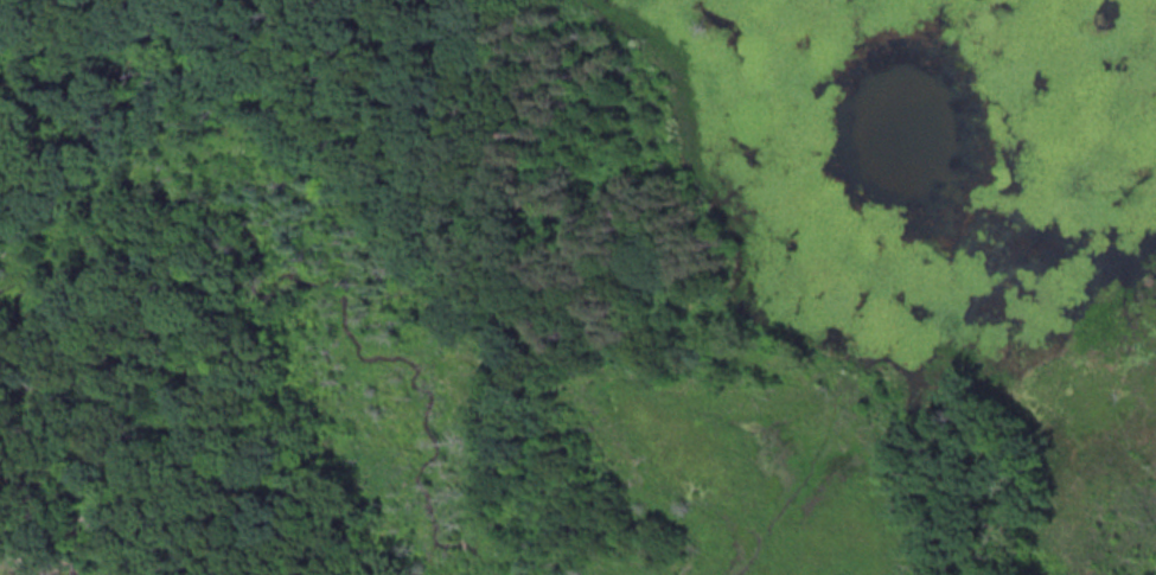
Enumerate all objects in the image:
park: (577, 287)
road: (481, 295)

